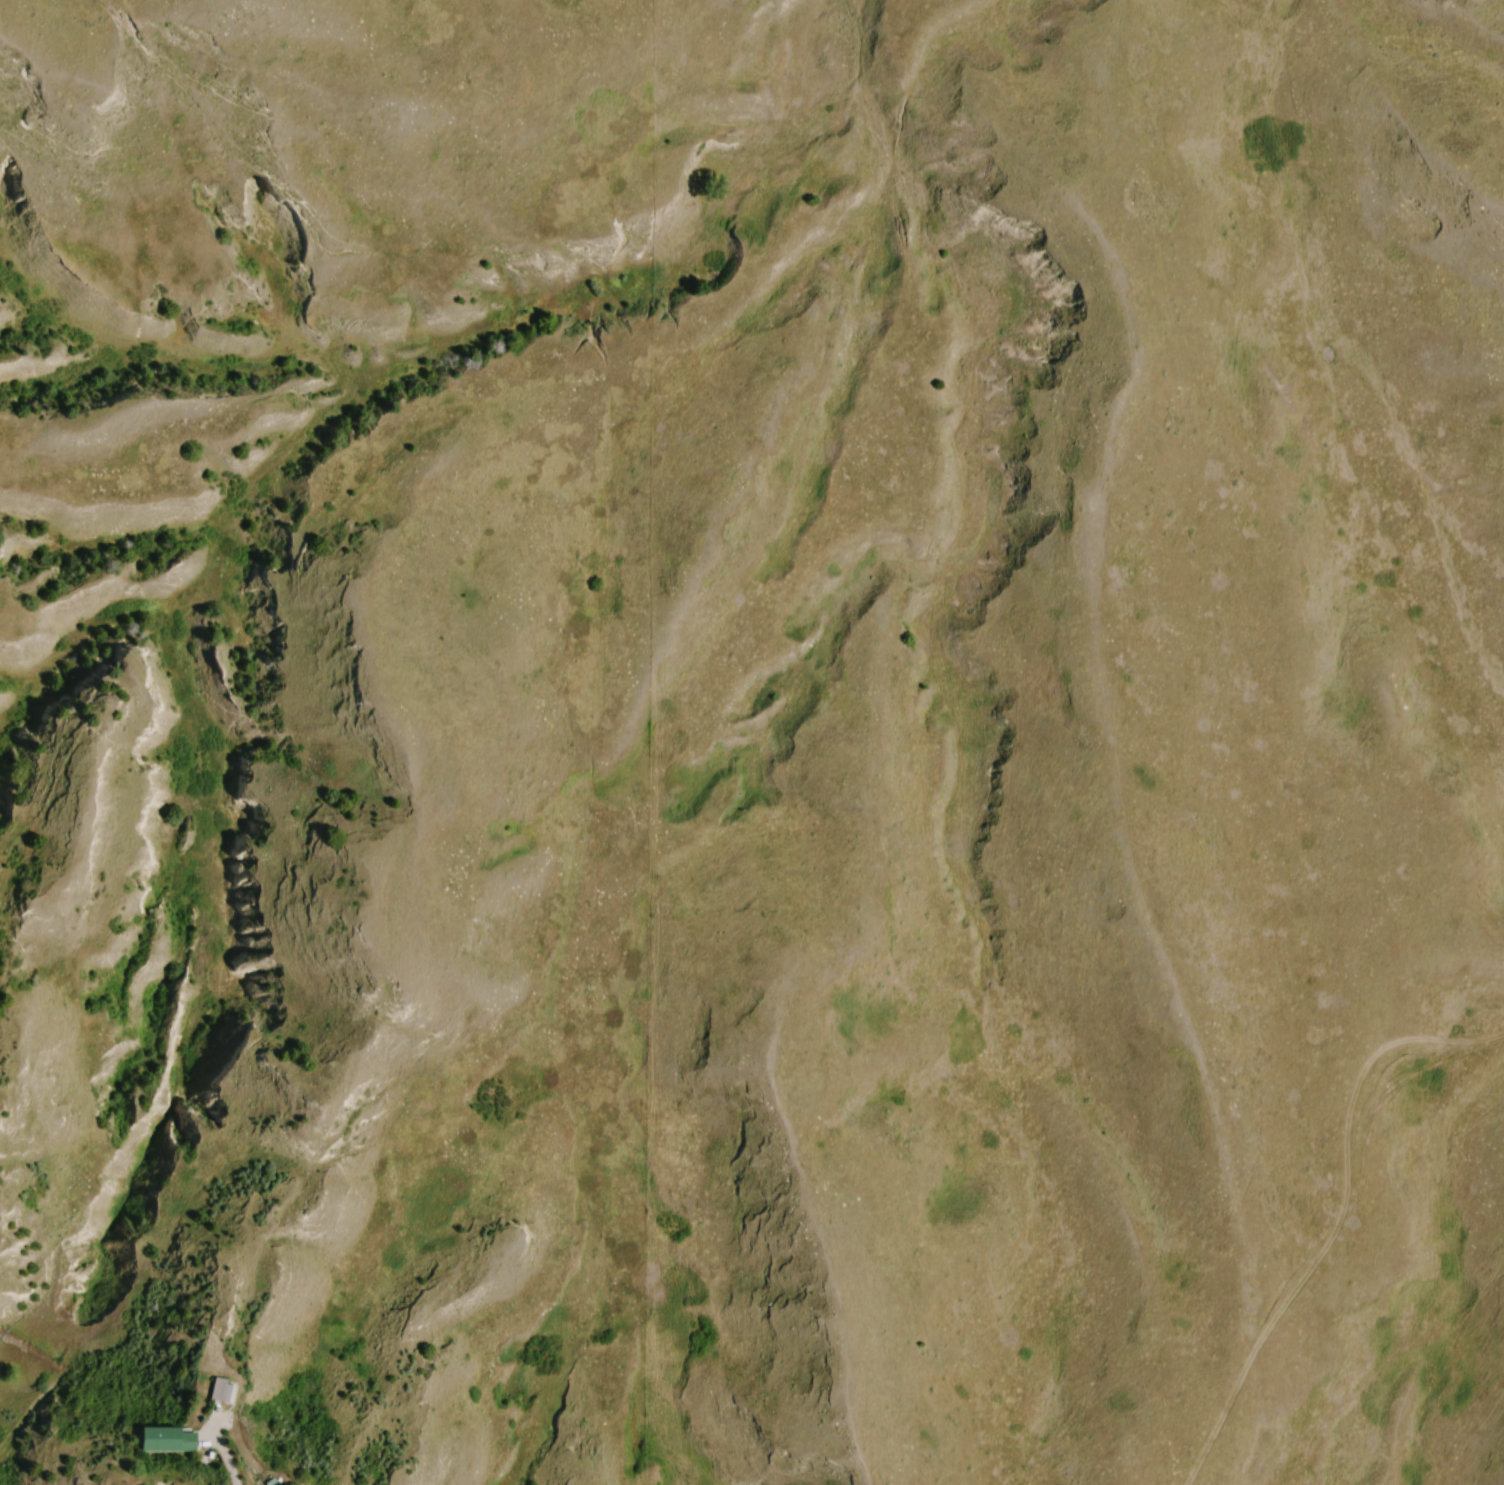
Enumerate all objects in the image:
building: (235, 1392)
building: (170, 1439)
road: (231, 1463)
building: (163, 1484)

